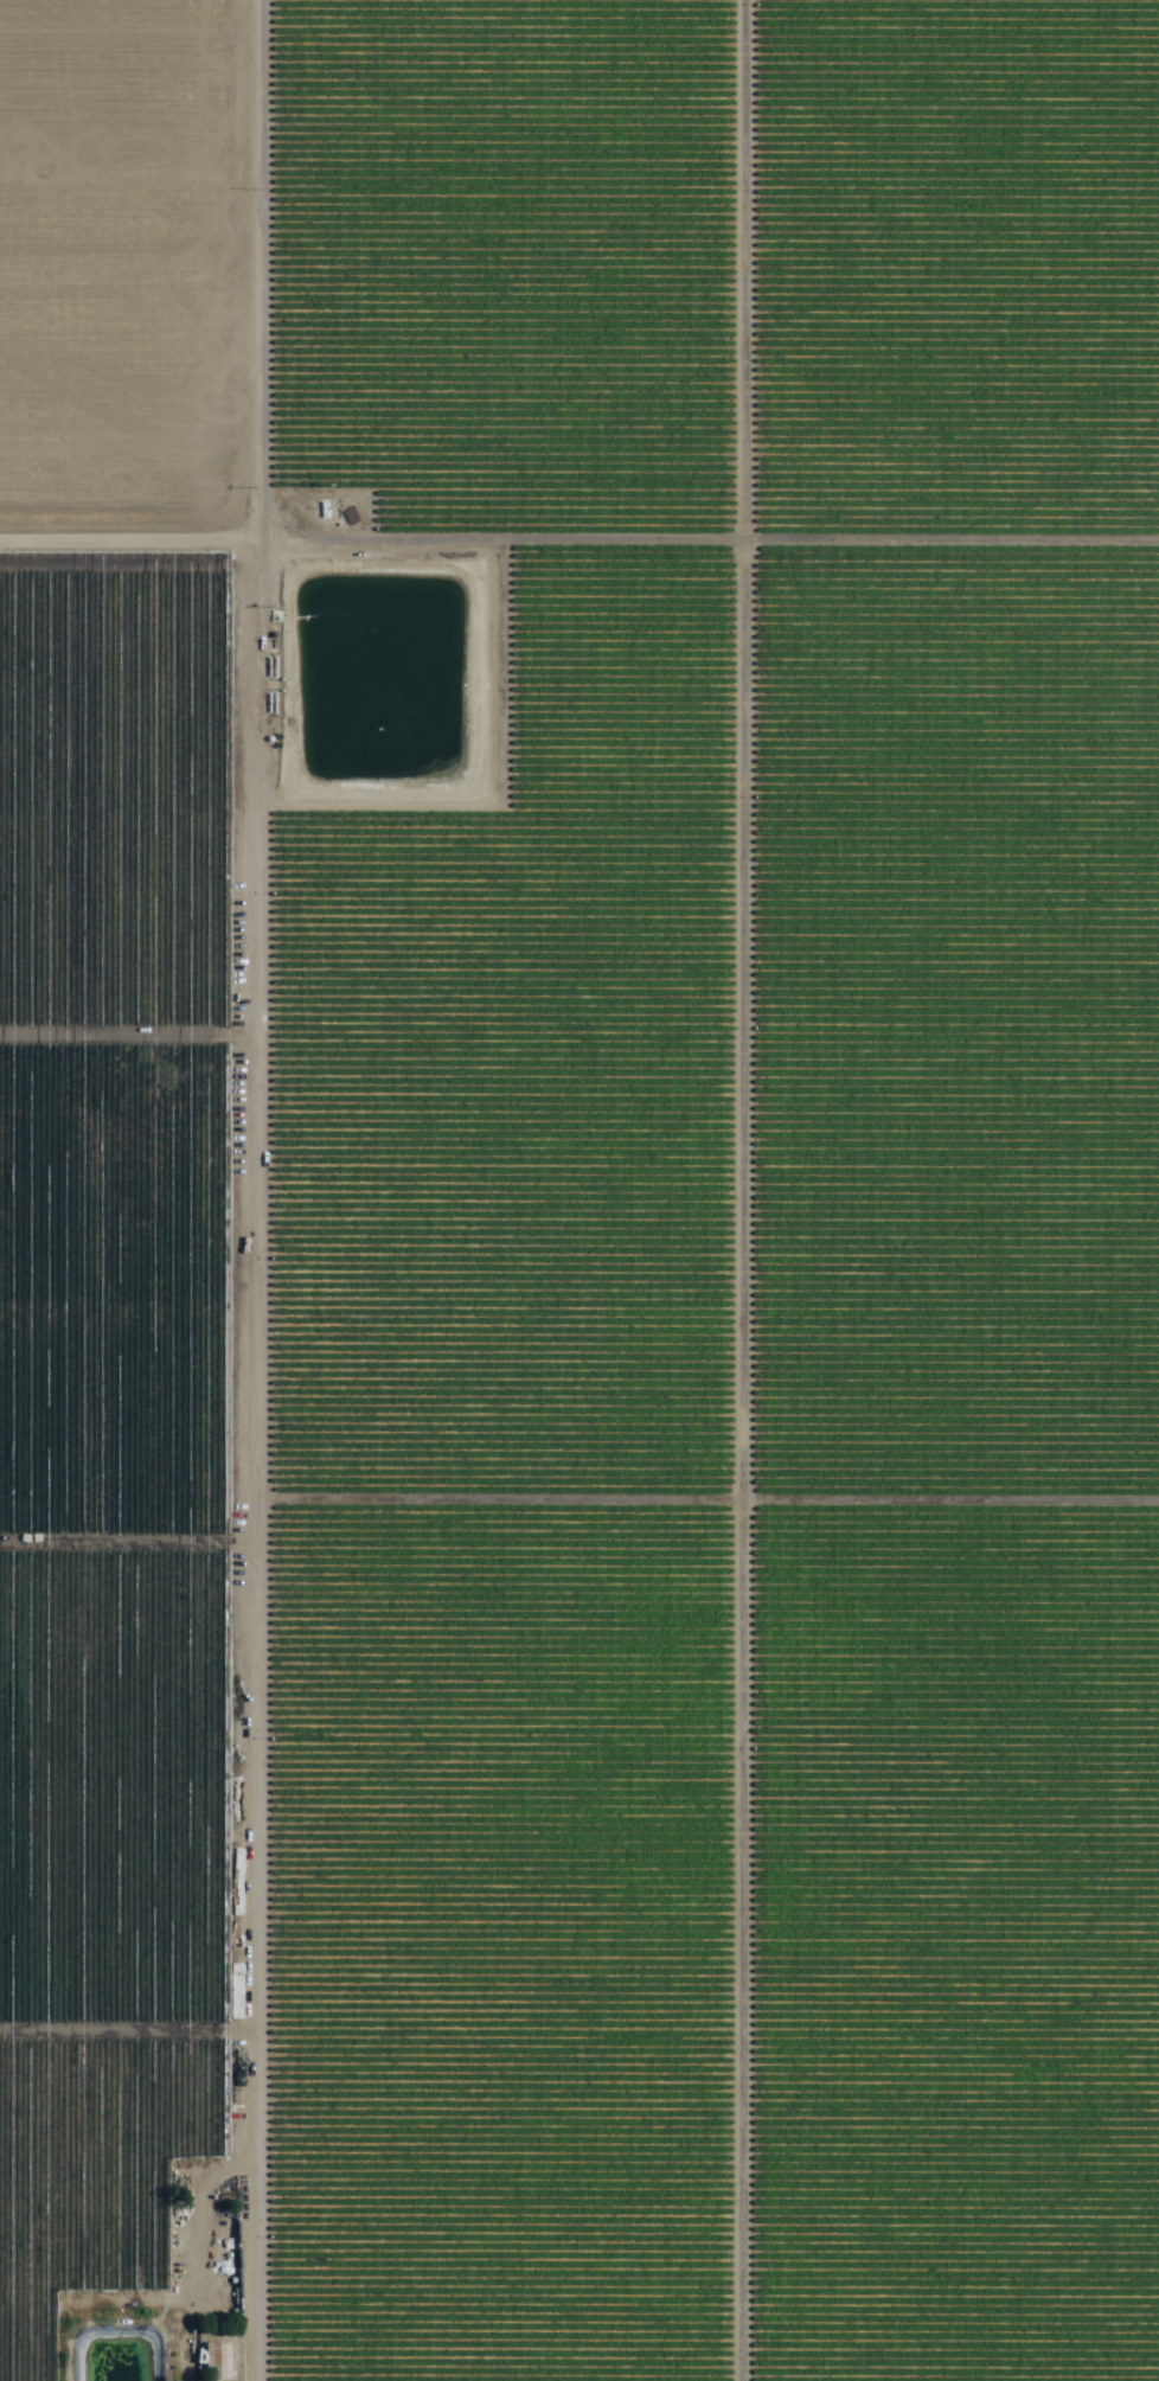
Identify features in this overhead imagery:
road: (713, 545)
road: (265, 1190)
crop: (579, 1190)
wastewater plant: (95, 2358)
building: (216, 2361)

